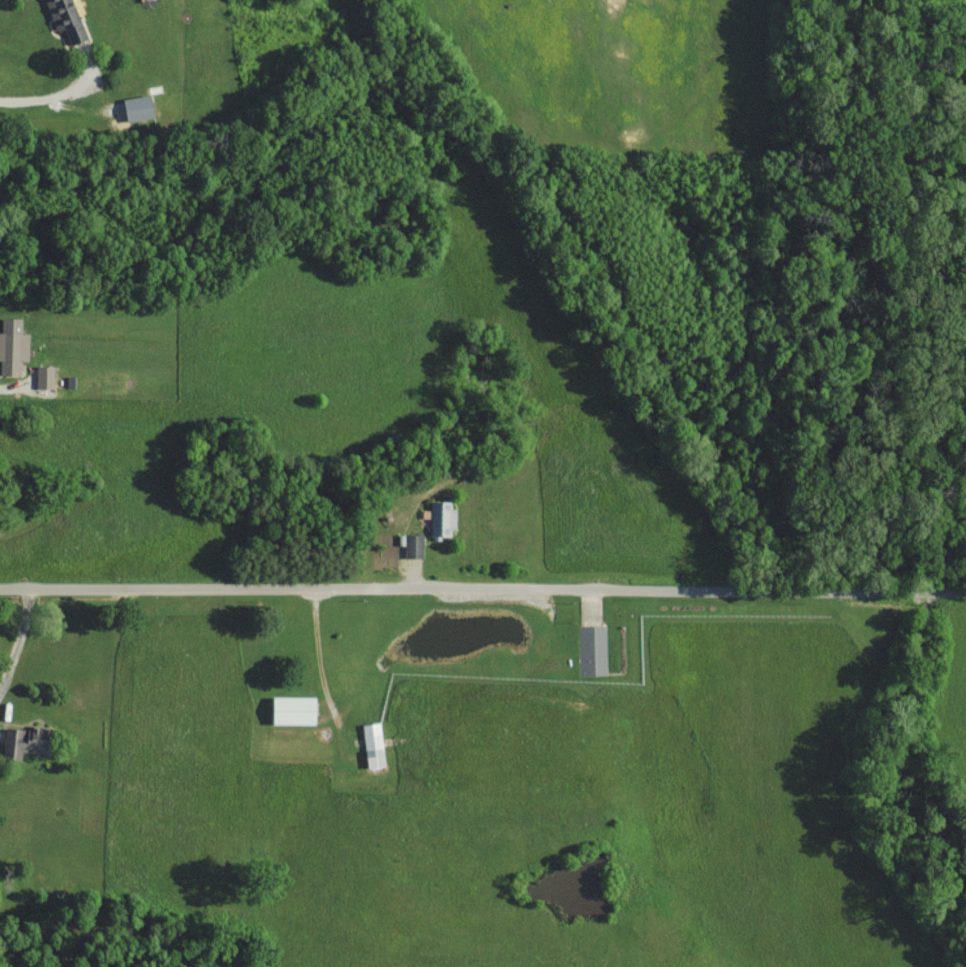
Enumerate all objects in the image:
building: (66, 19)
road: (48, 96)
building: (138, 107)
building: (12, 345)
building: (45, 376)
building: (442, 518)
building: (414, 545)
road: (482, 589)
road: (21, 639)
building: (593, 648)
road: (322, 649)
building: (293, 710)
building: (26, 741)
building: (373, 745)

